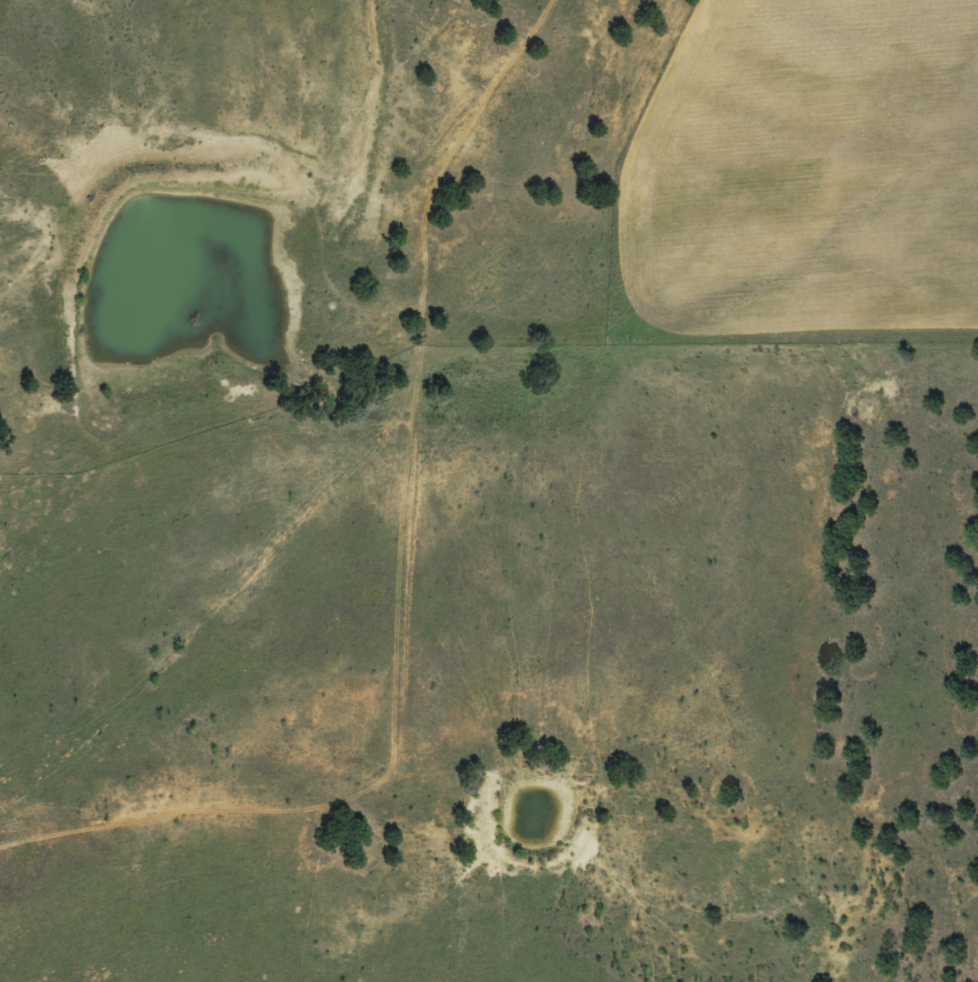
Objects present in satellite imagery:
road: (590, 395)

